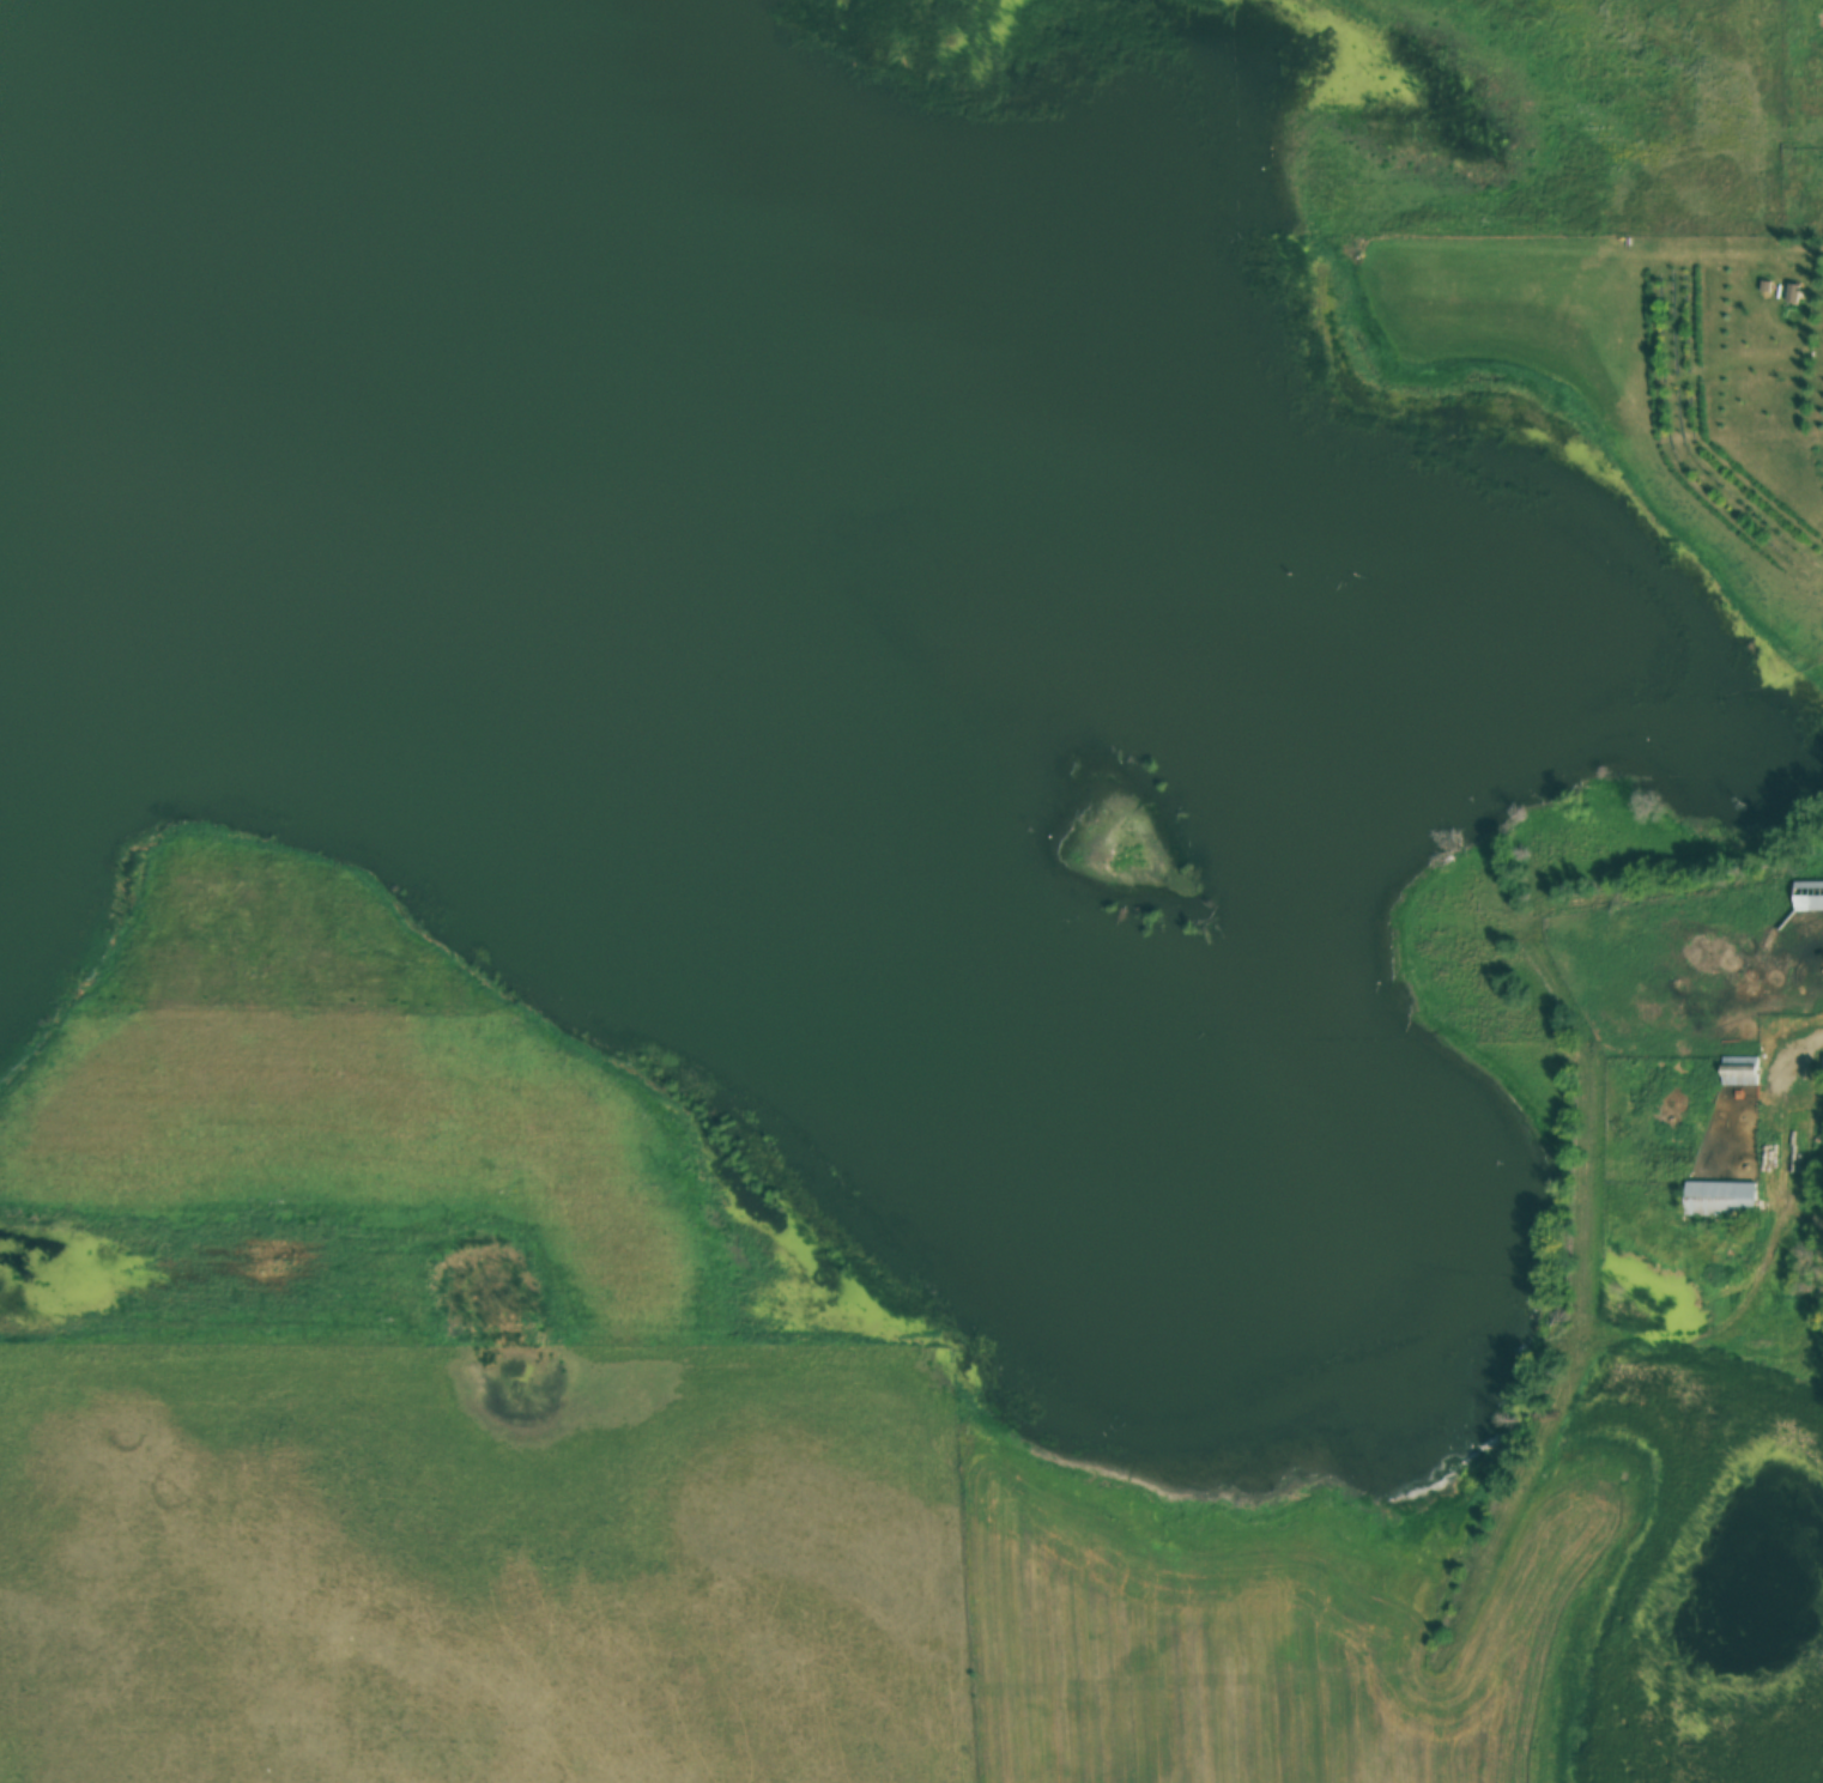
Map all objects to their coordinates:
building: (1809, 894)
building: (1738, 1071)
building: (1719, 1197)
road: (1776, 1248)

